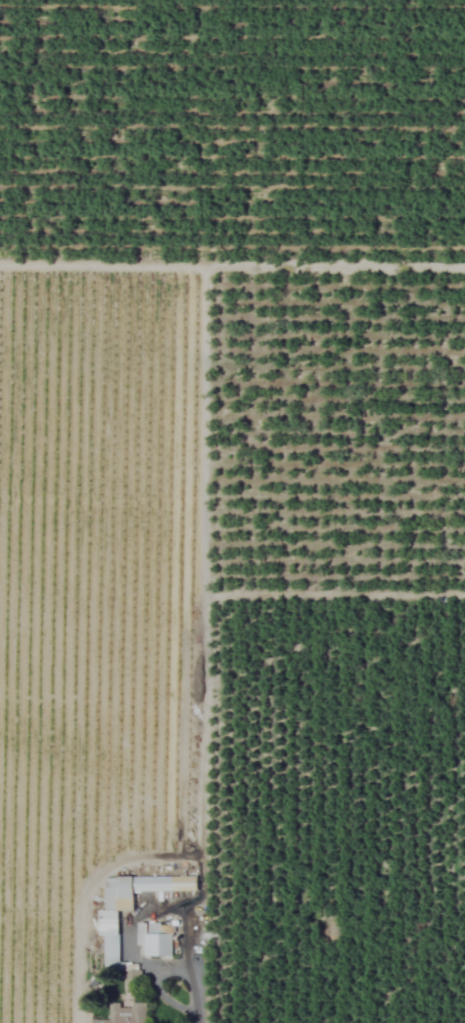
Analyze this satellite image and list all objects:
crop: (232, 511)
building: (129, 907)
building: (153, 940)
road: (158, 968)
building: (124, 1014)
road: (196, 1022)

